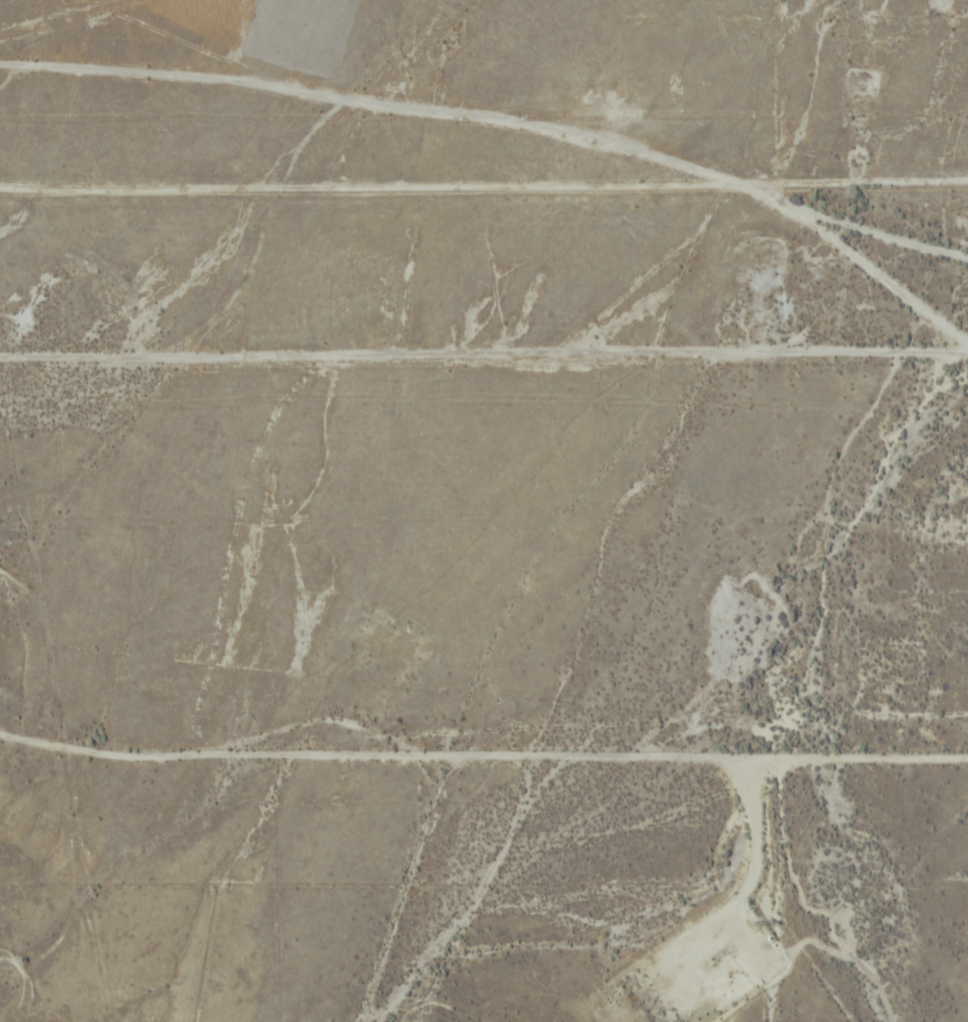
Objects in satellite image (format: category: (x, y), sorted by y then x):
road: (483, 386)

